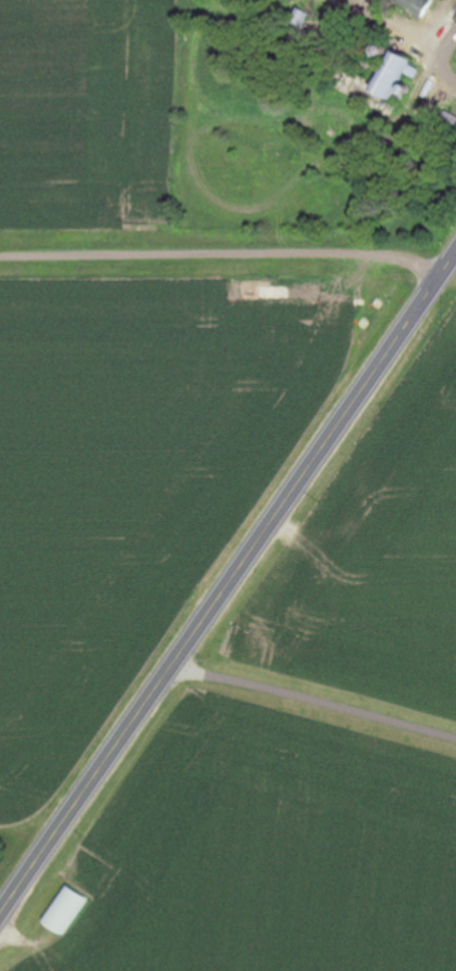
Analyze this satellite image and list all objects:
road: (437, 61)
crop: (86, 113)
road: (226, 253)
crop: (145, 478)
road: (228, 597)
road: (318, 702)
road: (2, 922)

